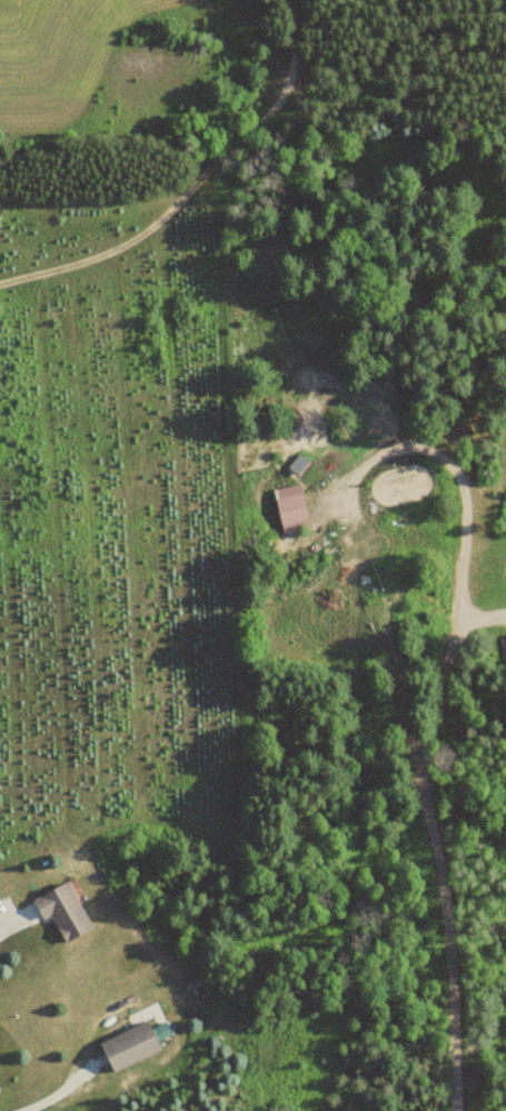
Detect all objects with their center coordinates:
building: (297, 464)
building: (289, 508)
building: (505, 636)
road: (427, 802)
building: (60, 912)
building: (128, 1046)

